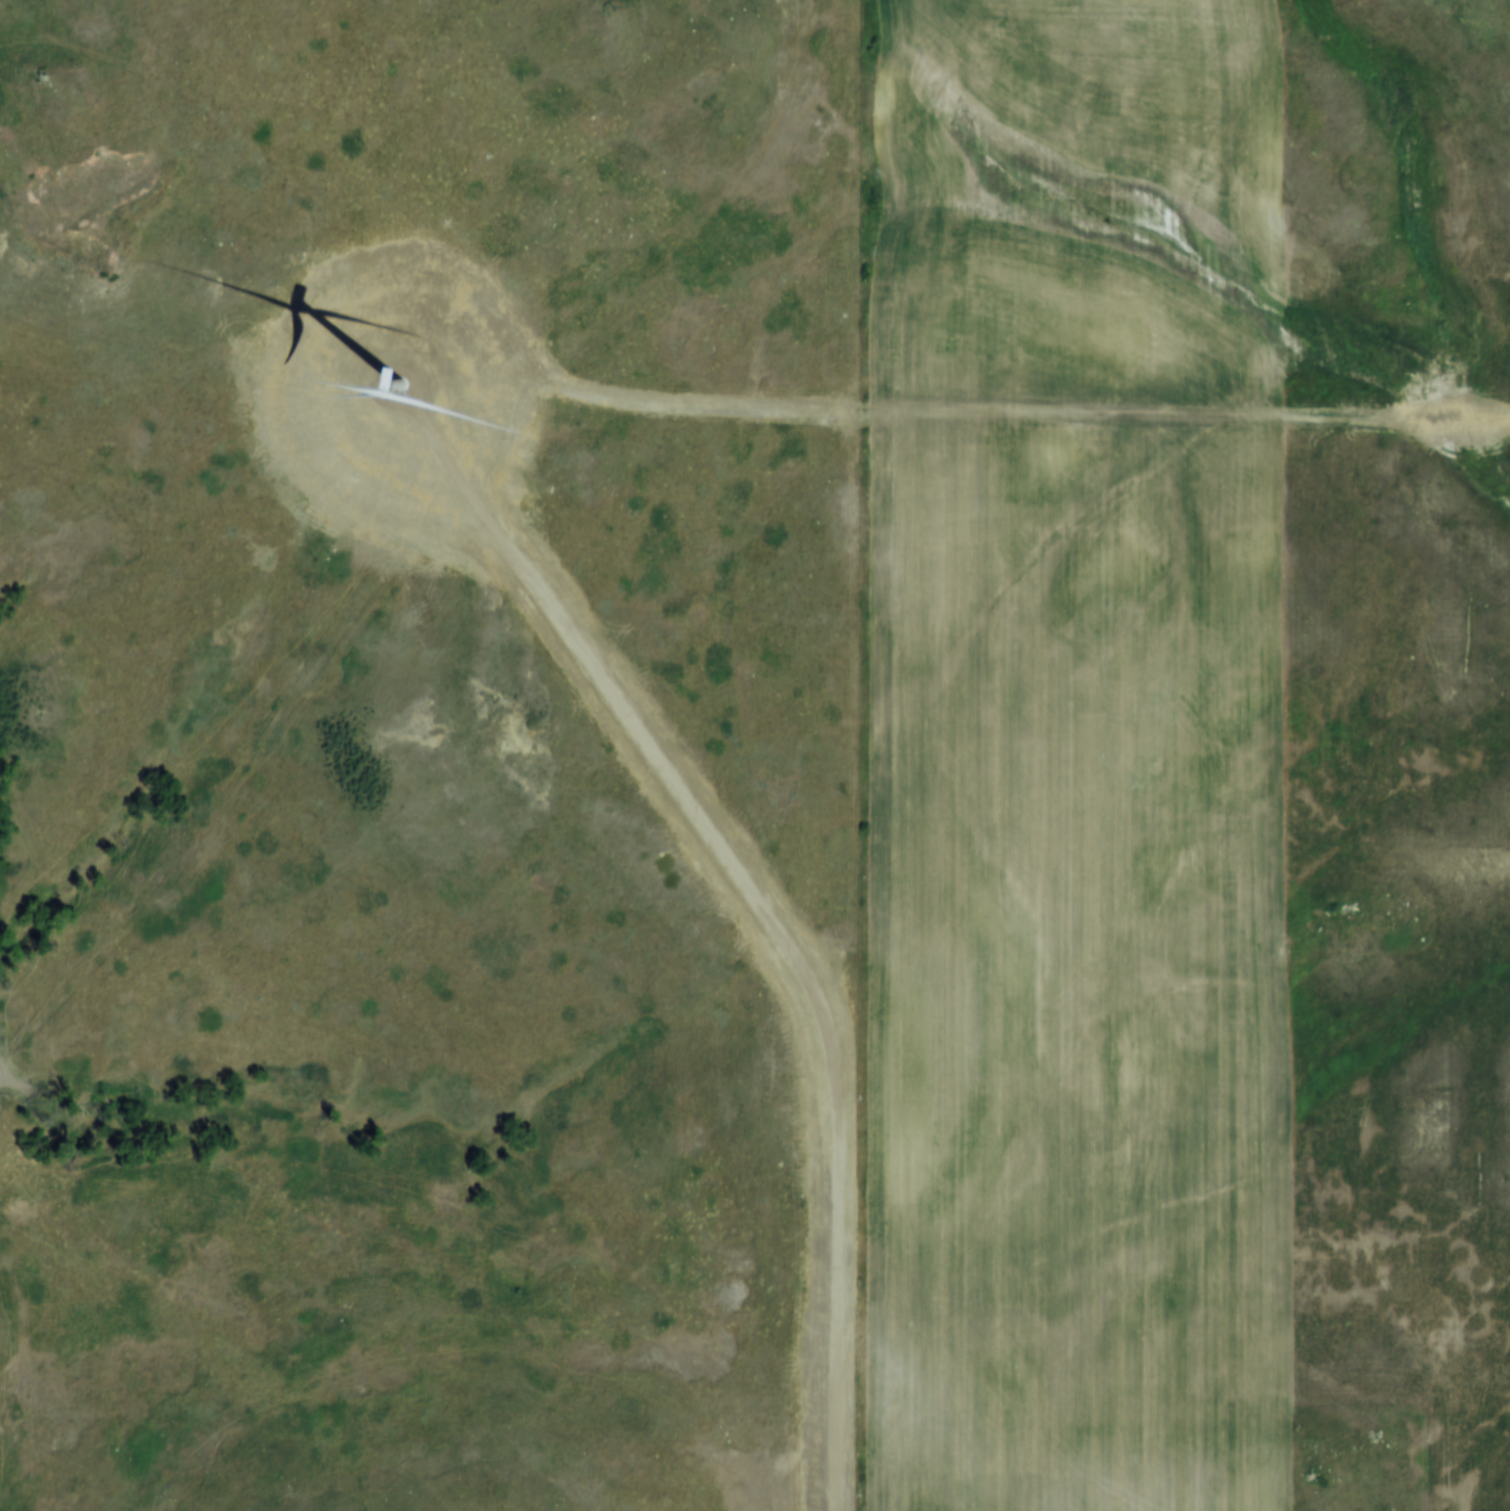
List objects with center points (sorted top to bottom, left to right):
wind turbine: (386, 385)
road: (967, 420)
road: (773, 924)

